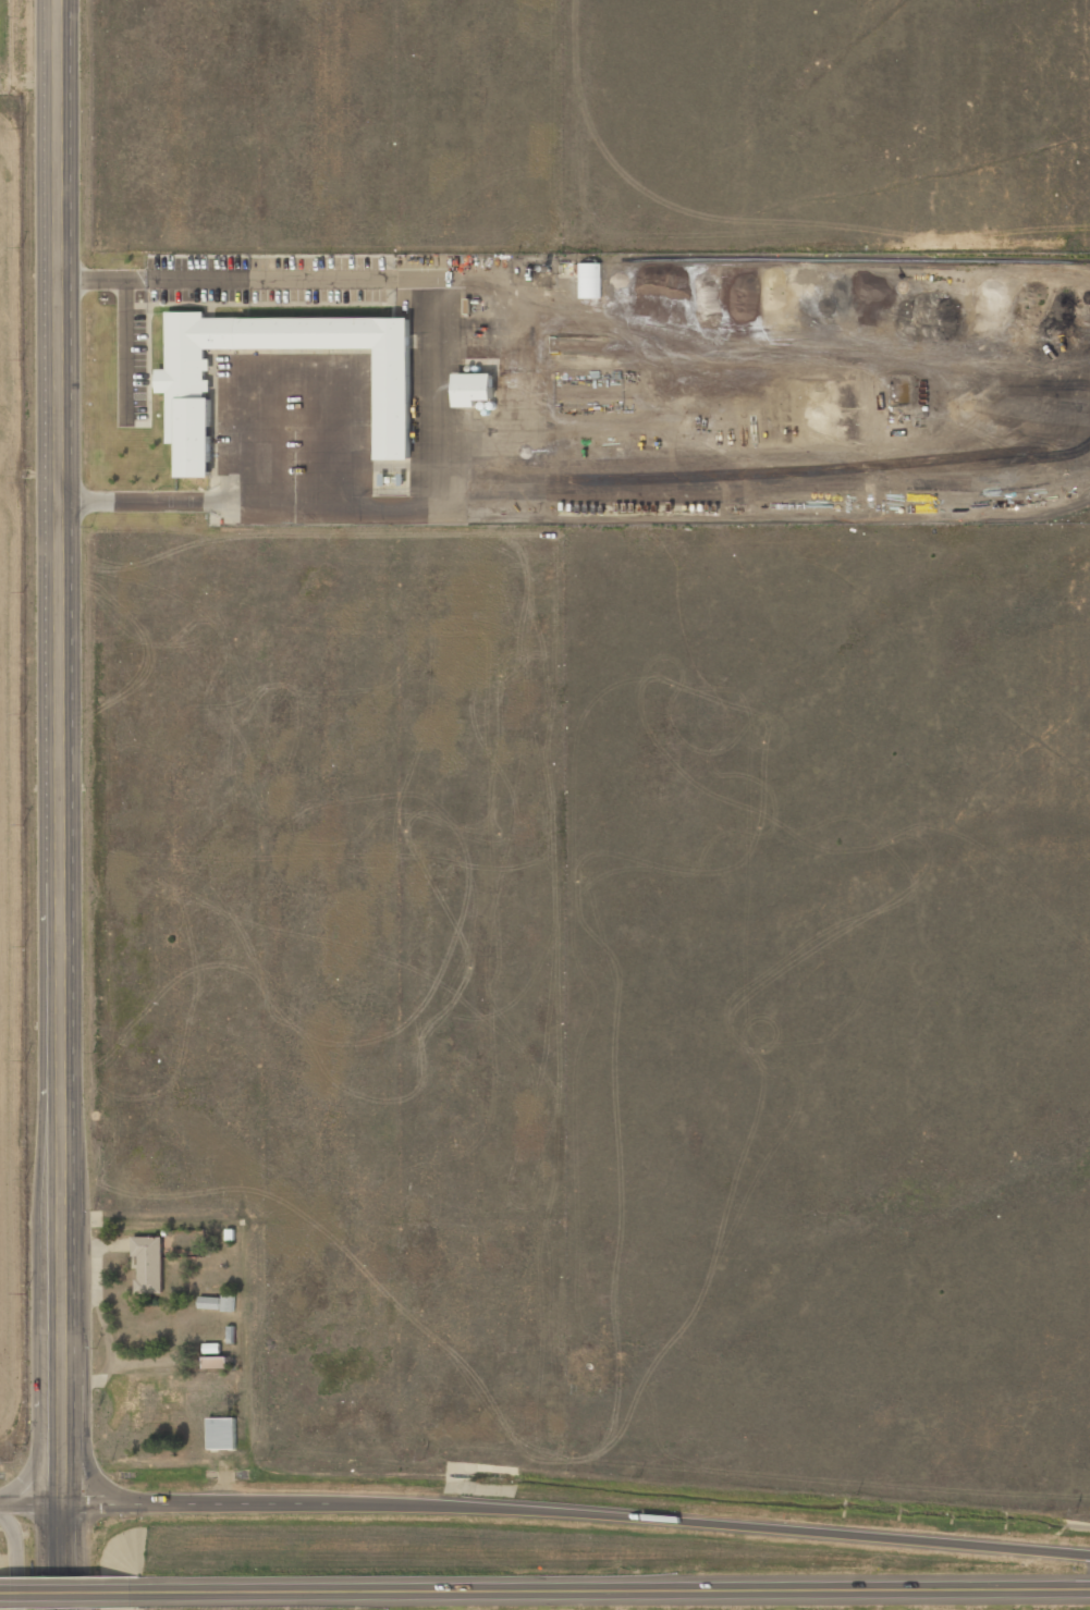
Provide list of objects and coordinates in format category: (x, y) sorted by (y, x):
building: (590, 281)
building: (475, 389)
building: (188, 394)
road: (60, 752)
building: (149, 1265)
building: (210, 1303)
building: (230, 1303)
building: (232, 1335)
building: (212, 1349)
building: (217, 1363)
building: (223, 1433)
road: (47, 1437)
road: (85, 1440)
road: (30, 1504)
road: (576, 1514)
road: (62, 1557)
road: (14, 1560)
road: (264, 1585)
road: (72, 1587)
road: (735, 1589)

